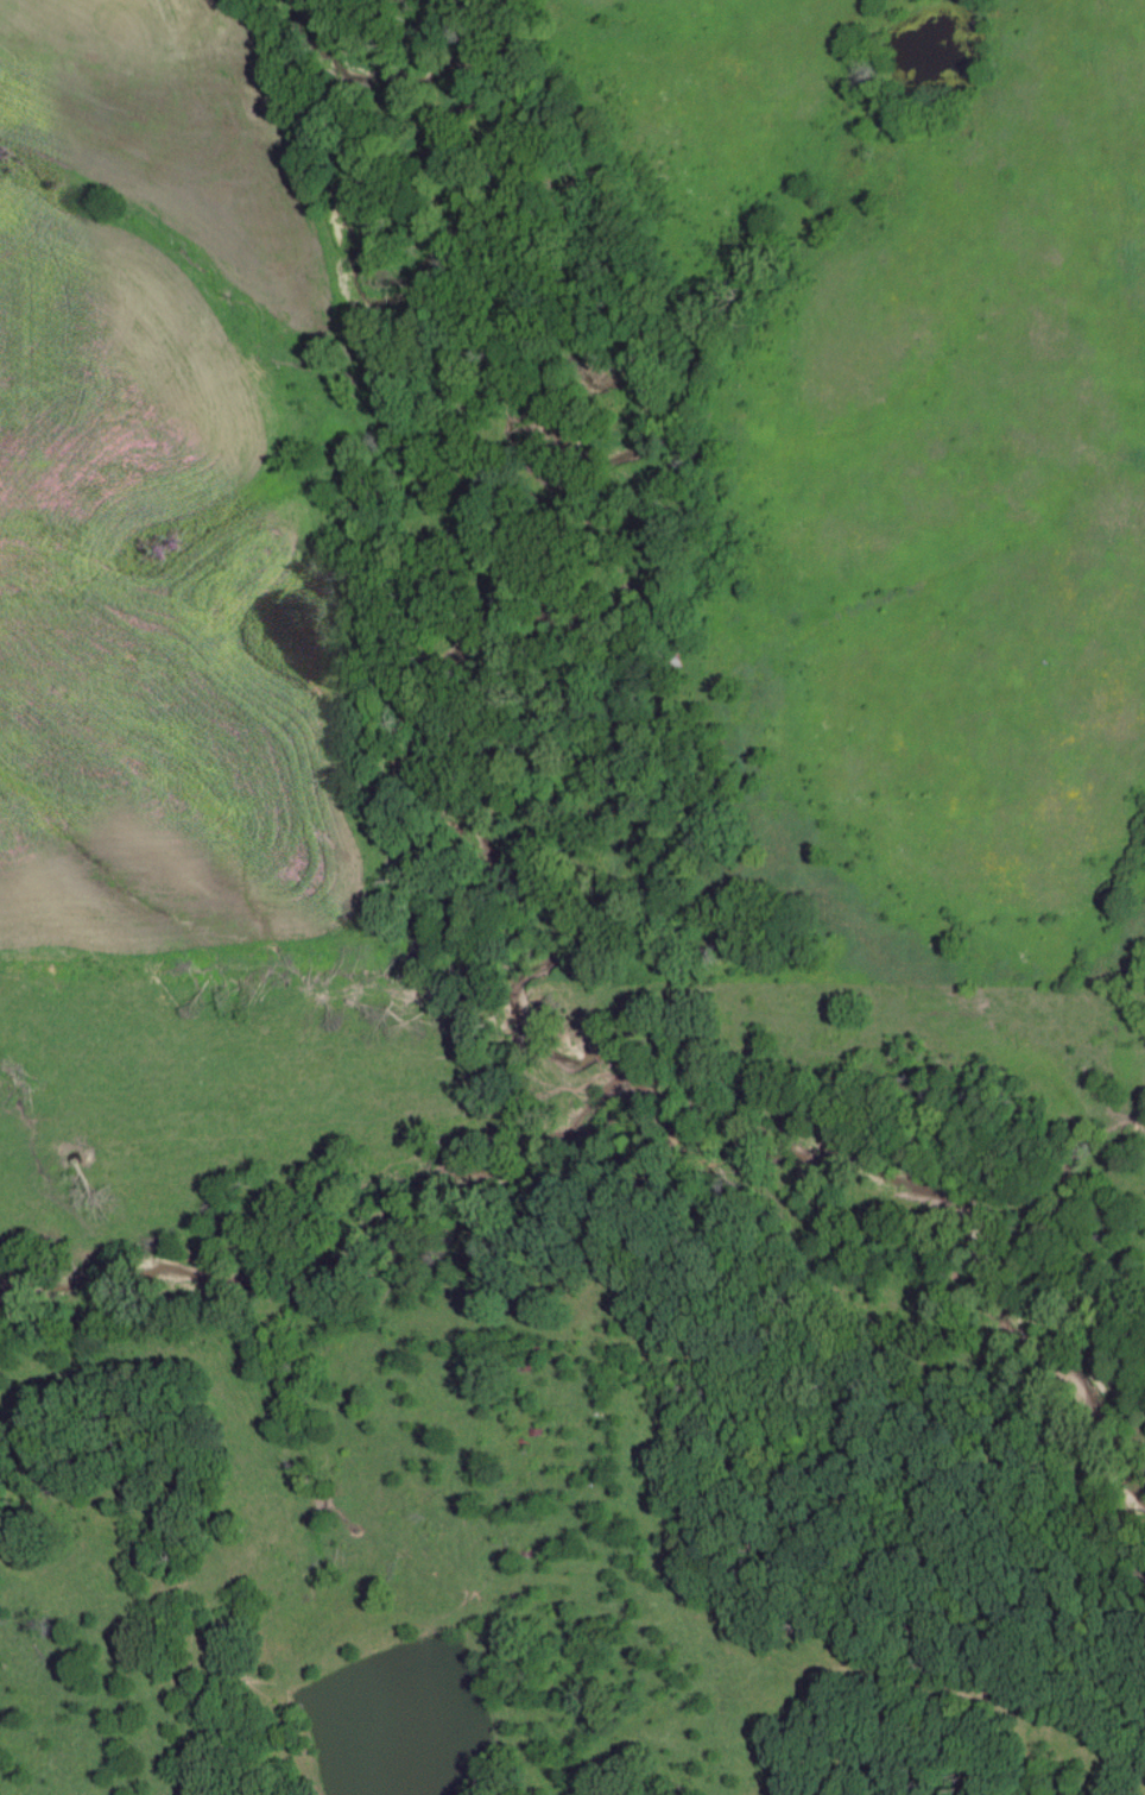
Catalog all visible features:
road: (109, 1664)

